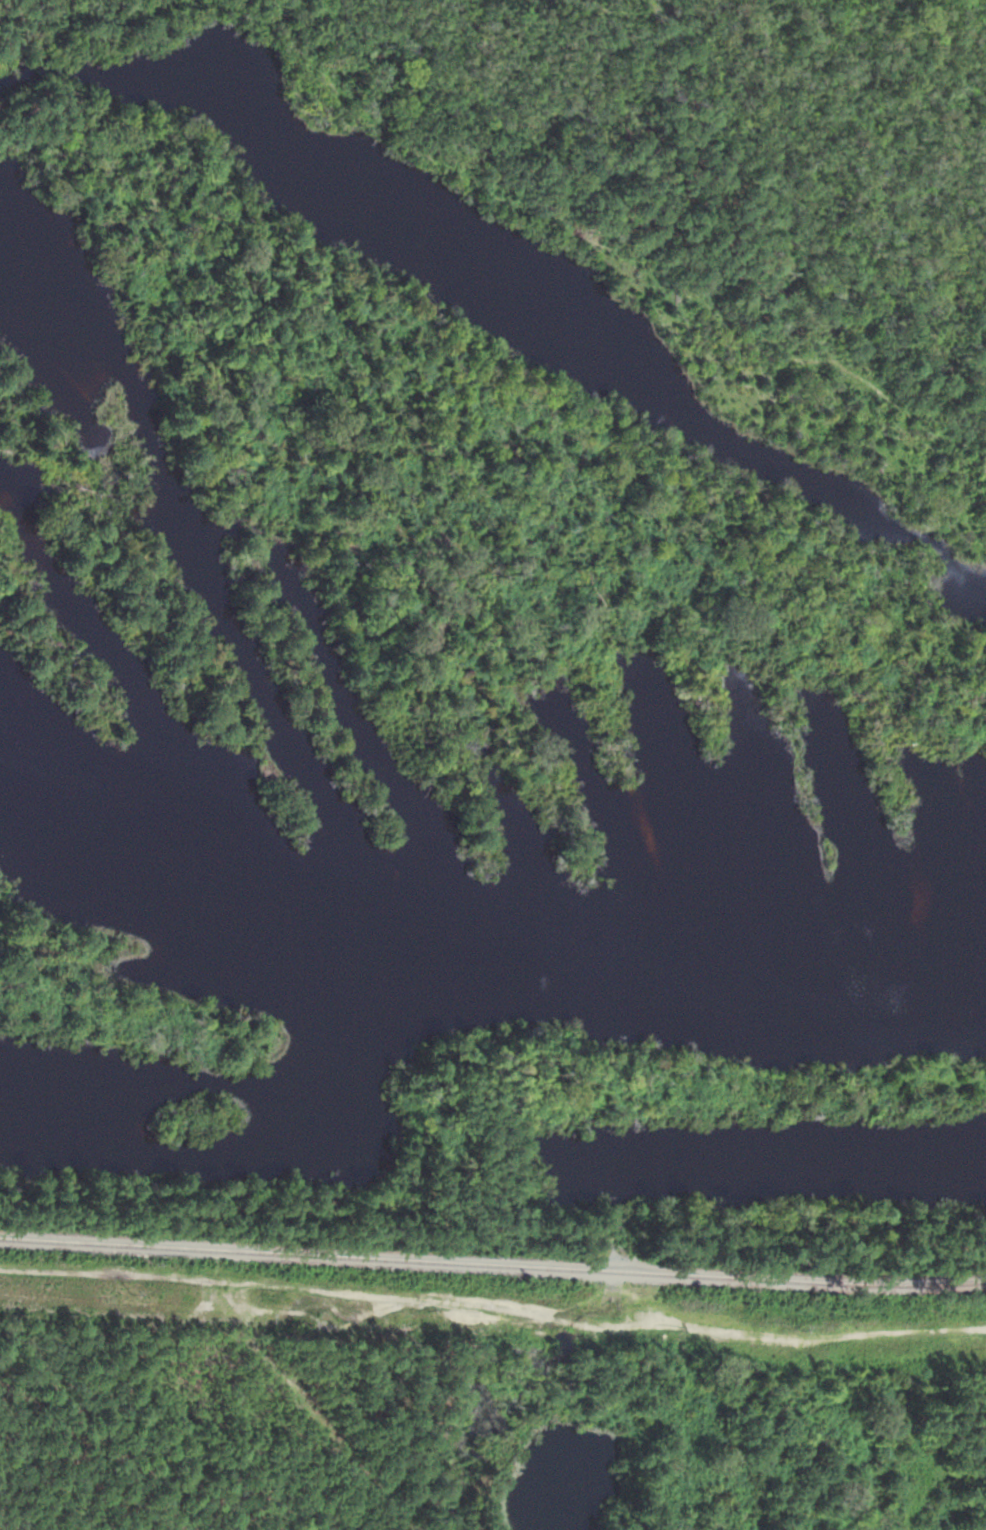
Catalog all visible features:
railway: (493, 1258)
power tower: (127, 1292)
power tower: (434, 1307)
power tower: (802, 1328)

